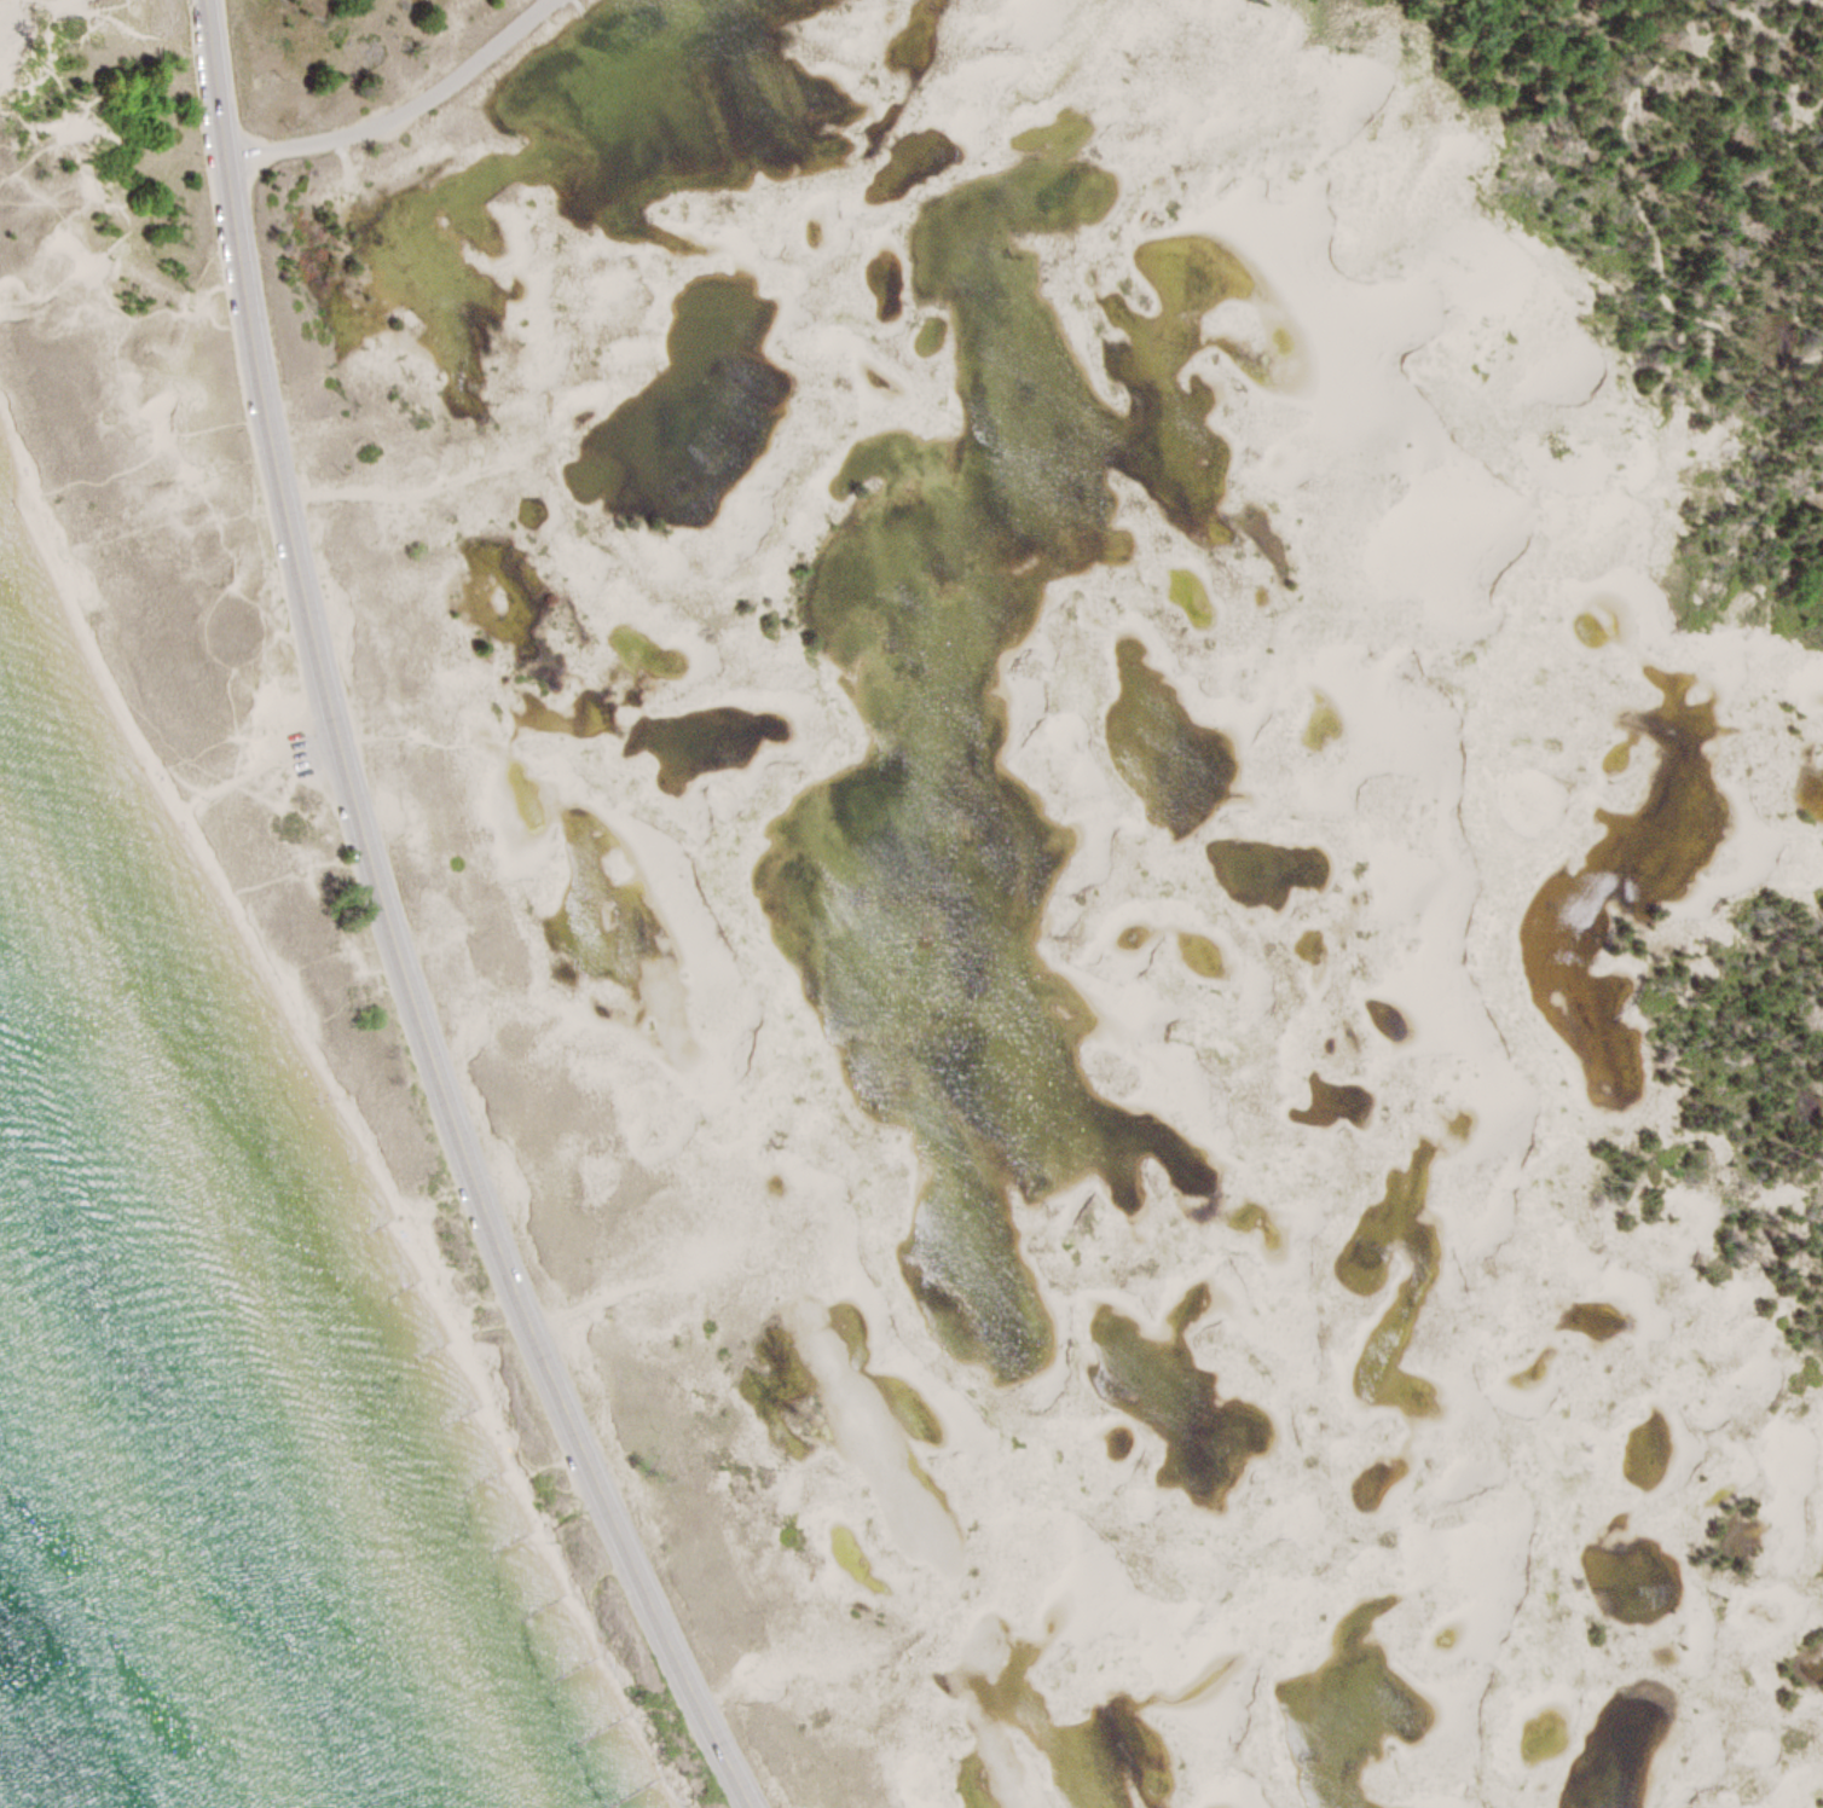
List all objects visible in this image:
road: (407, 106)
road: (1647, 227)
park: (984, 846)
road: (394, 928)

